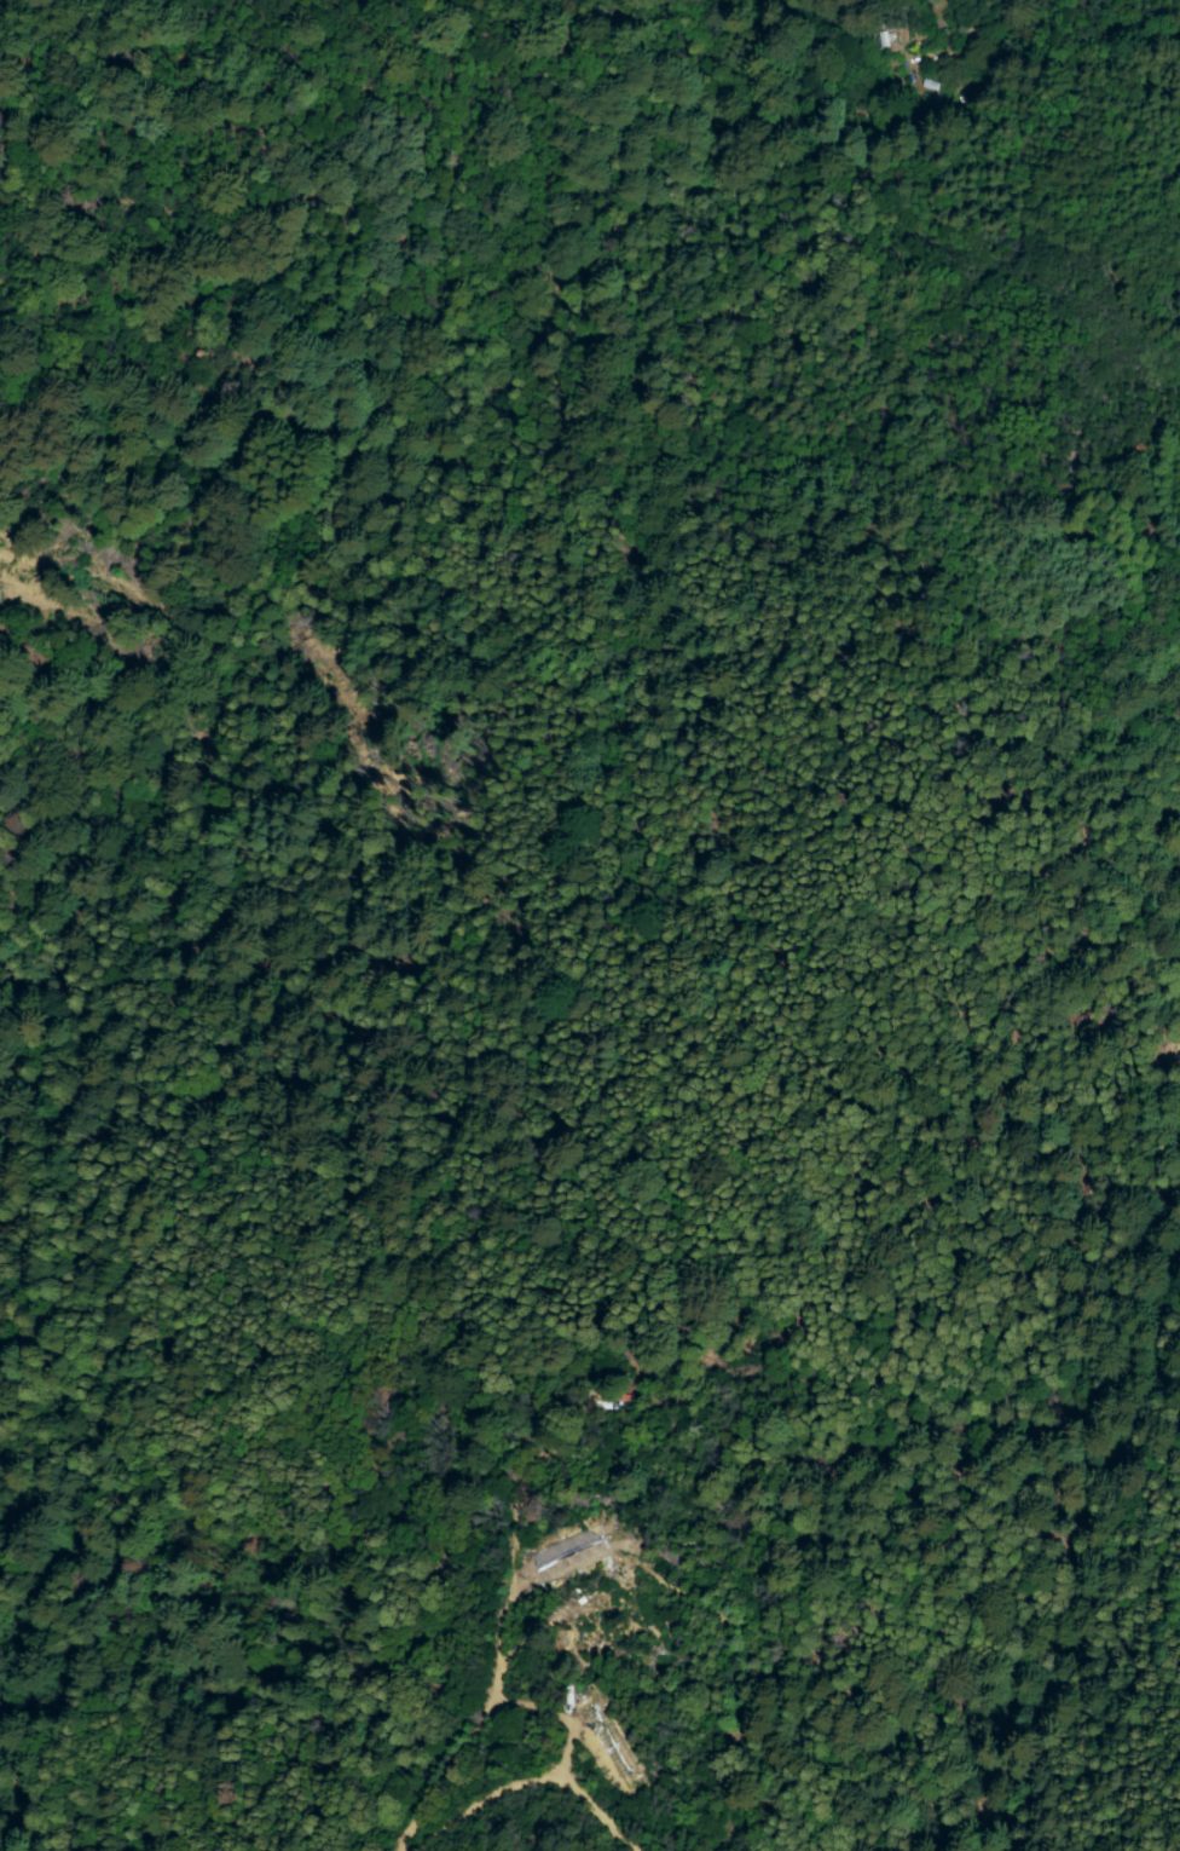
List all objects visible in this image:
road: (497, 1631)
road: (526, 1701)

